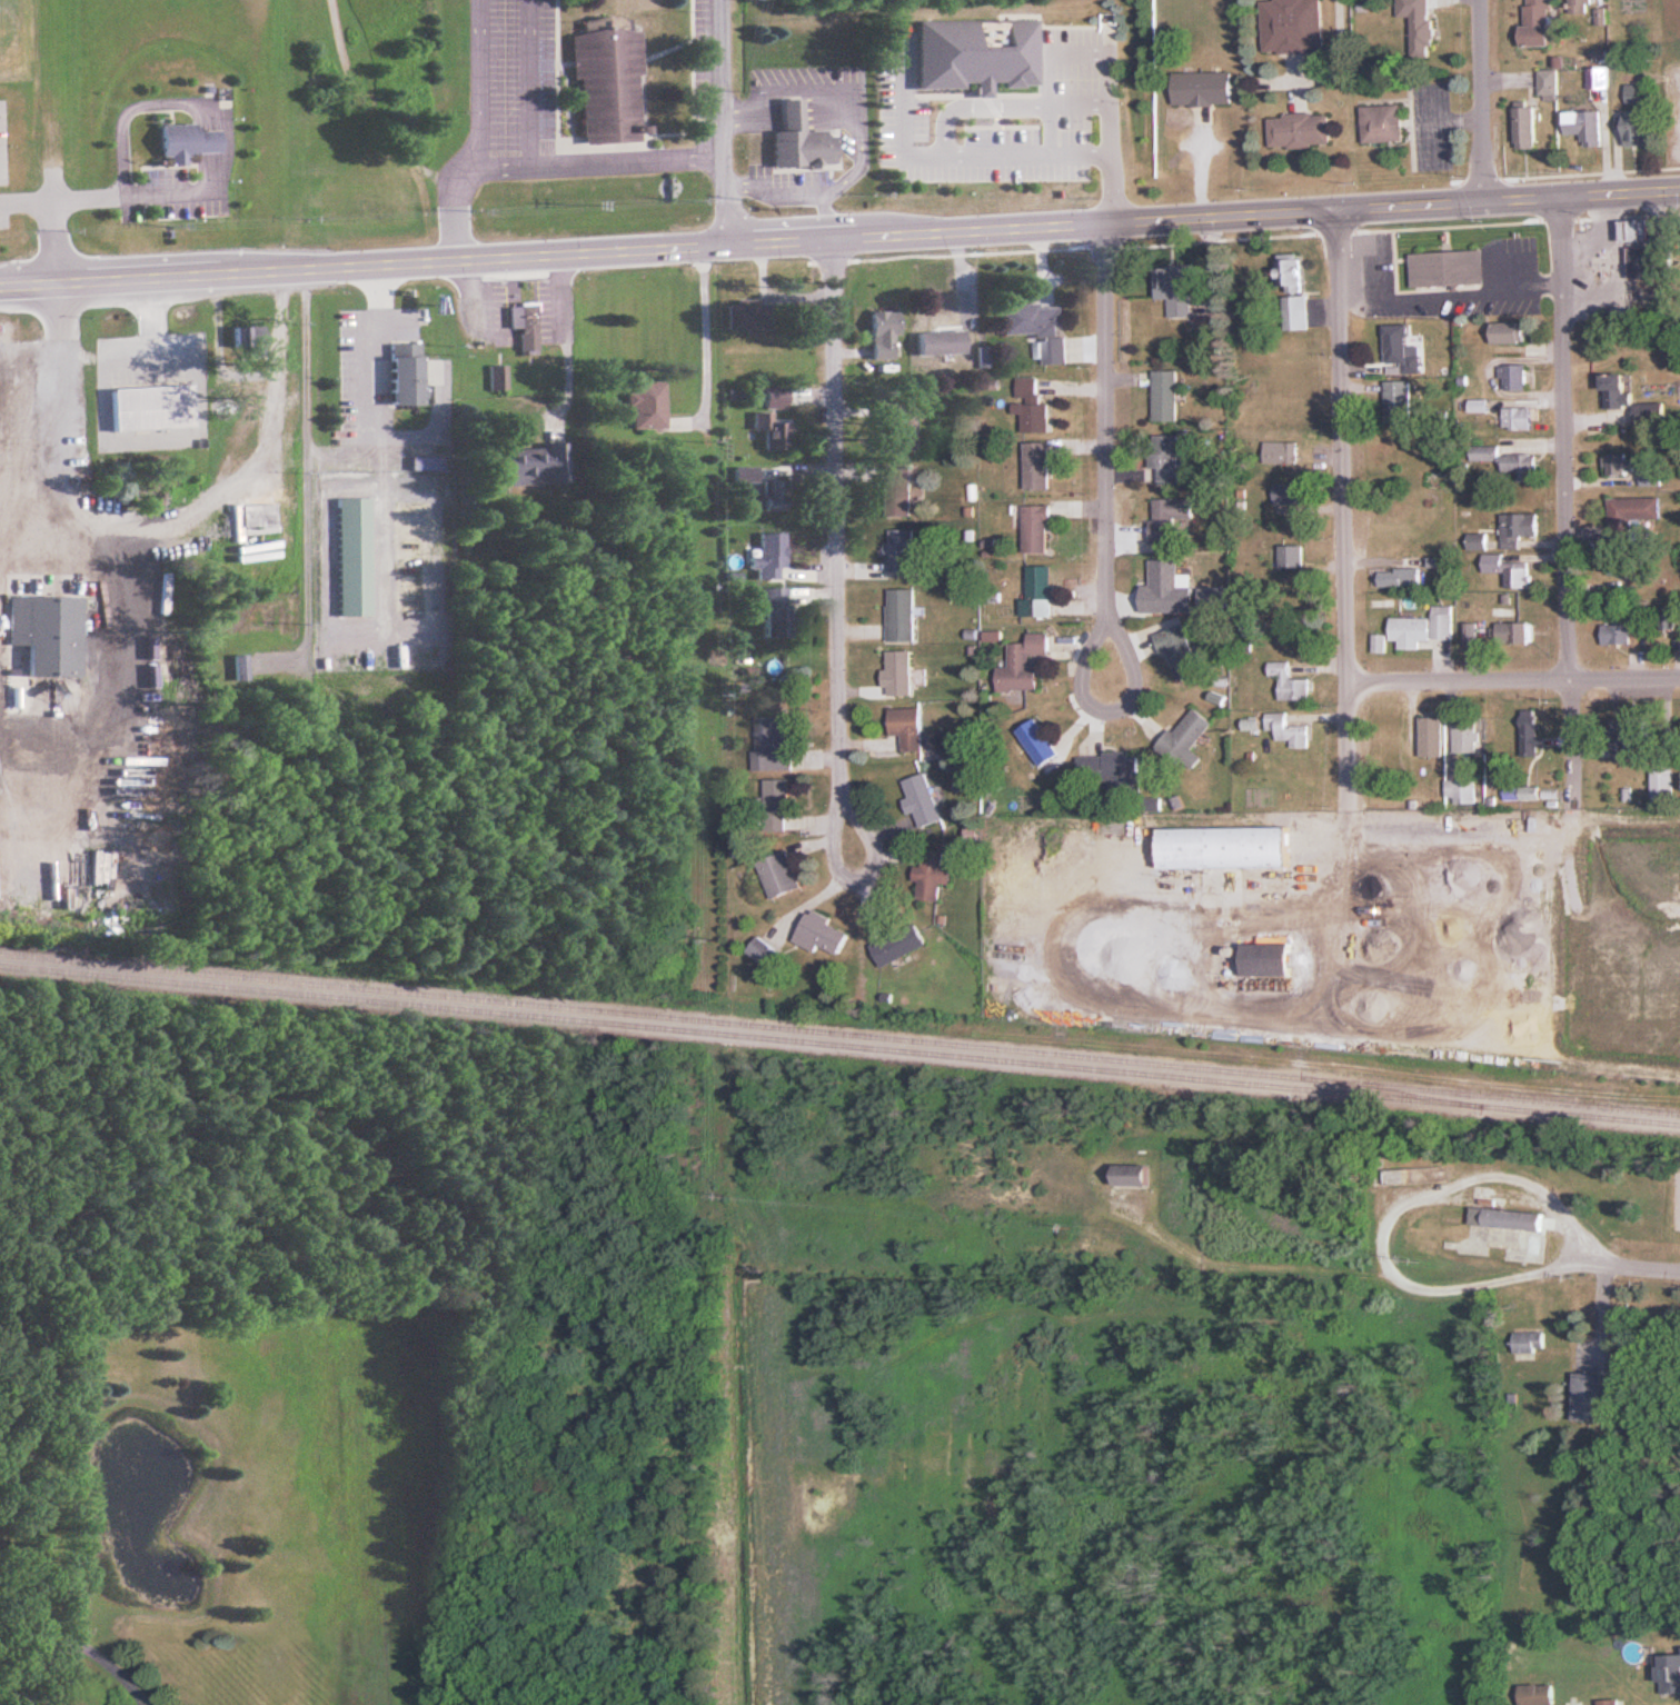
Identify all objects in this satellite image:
building: (1585, 7)
building: (1538, 22)
building: (1419, 24)
building: (1292, 26)
building: (607, 81)
building: (1598, 82)
building: (1548, 83)
building: (1203, 87)
building: (1634, 92)
road: (1481, 101)
road: (215, 110)
road: (725, 122)
building: (1382, 122)
building: (1525, 123)
building: (1584, 126)
building: (1638, 128)
building: (1299, 129)
building: (801, 139)
building: (187, 141)
road: (1619, 193)
road: (62, 197)
road: (1520, 200)
road: (1410, 206)
road: (1057, 227)
building: (1639, 228)
road: (52, 240)
building: (1650, 259)
road: (389, 263)
building: (1449, 269)
road: (461, 278)
building: (1176, 292)
building: (1292, 292)
building: (745, 316)
road: (151, 317)
building: (525, 323)
building: (943, 328)
building: (1036, 328)
road: (705, 332)
building: (1508, 332)
building: (885, 335)
building: (251, 336)
road: (566, 337)
building: (1400, 348)
building: (406, 372)
building: (1512, 377)
building: (498, 378)
building: (1616, 390)
building: (1165, 396)
road: (12, 400)
building: (1398, 402)
building: (647, 403)
building: (1032, 406)
building: (152, 408)
building: (1650, 412)
building: (763, 417)
building: (1517, 418)
building: (902, 428)
building: (1280, 451)
building: (1166, 457)
building: (1507, 461)
building: (1620, 463)
building: (1038, 466)
building: (531, 467)
road: (308, 472)
building: (745, 473)
building: (899, 490)
building: (775, 493)
building: (1289, 498)
road: (1564, 499)
building: (1634, 509)
building: (257, 514)
road: (1344, 515)
building: (1169, 516)
building: (1036, 528)
building: (1518, 528)
road: (17, 530)
road: (1109, 534)
building: (1477, 541)
building: (902, 552)
building: (354, 556)
building: (769, 556)
building: (1292, 556)
building: (1619, 565)
building: (1509, 568)
building: (1400, 578)
building: (1172, 588)
building: (1040, 592)
building: (774, 612)
building: (902, 615)
road: (837, 621)
building: (1422, 628)
building: (1471, 630)
building: (1515, 631)
building: (47, 632)
building: (1616, 632)
building: (1179, 651)
building: (1024, 664)
building: (240, 666)
building: (898, 672)
road: (1624, 679)
road: (1459, 681)
building: (1290, 682)
building: (908, 727)
building: (1289, 729)
road: (79, 734)
building: (1629, 734)
building: (1467, 735)
building: (1432, 737)
building: (1187, 738)
building: (1529, 738)
building: (1040, 741)
building: (773, 742)
building: (1109, 768)
building: (1662, 782)
building: (1461, 790)
building: (1511, 792)
building: (923, 800)
building: (777, 806)
building: (1226, 847)
building: (934, 874)
building: (779, 875)
building: (822, 934)
building: (892, 948)
building: (763, 951)
building: (1268, 960)
railway: (839, 1034)
railway: (839, 1045)
railway: (1415, 1095)
building: (1134, 1175)
building: (1413, 1176)
building: (1508, 1218)
road: (1623, 1268)
building: (1529, 1340)
building: (1590, 1395)
road: (37, 1628)
road: (113, 1667)
road: (36, 1668)
building: (1671, 1673)
building: (1538, 1694)
building: (1609, 1702)

